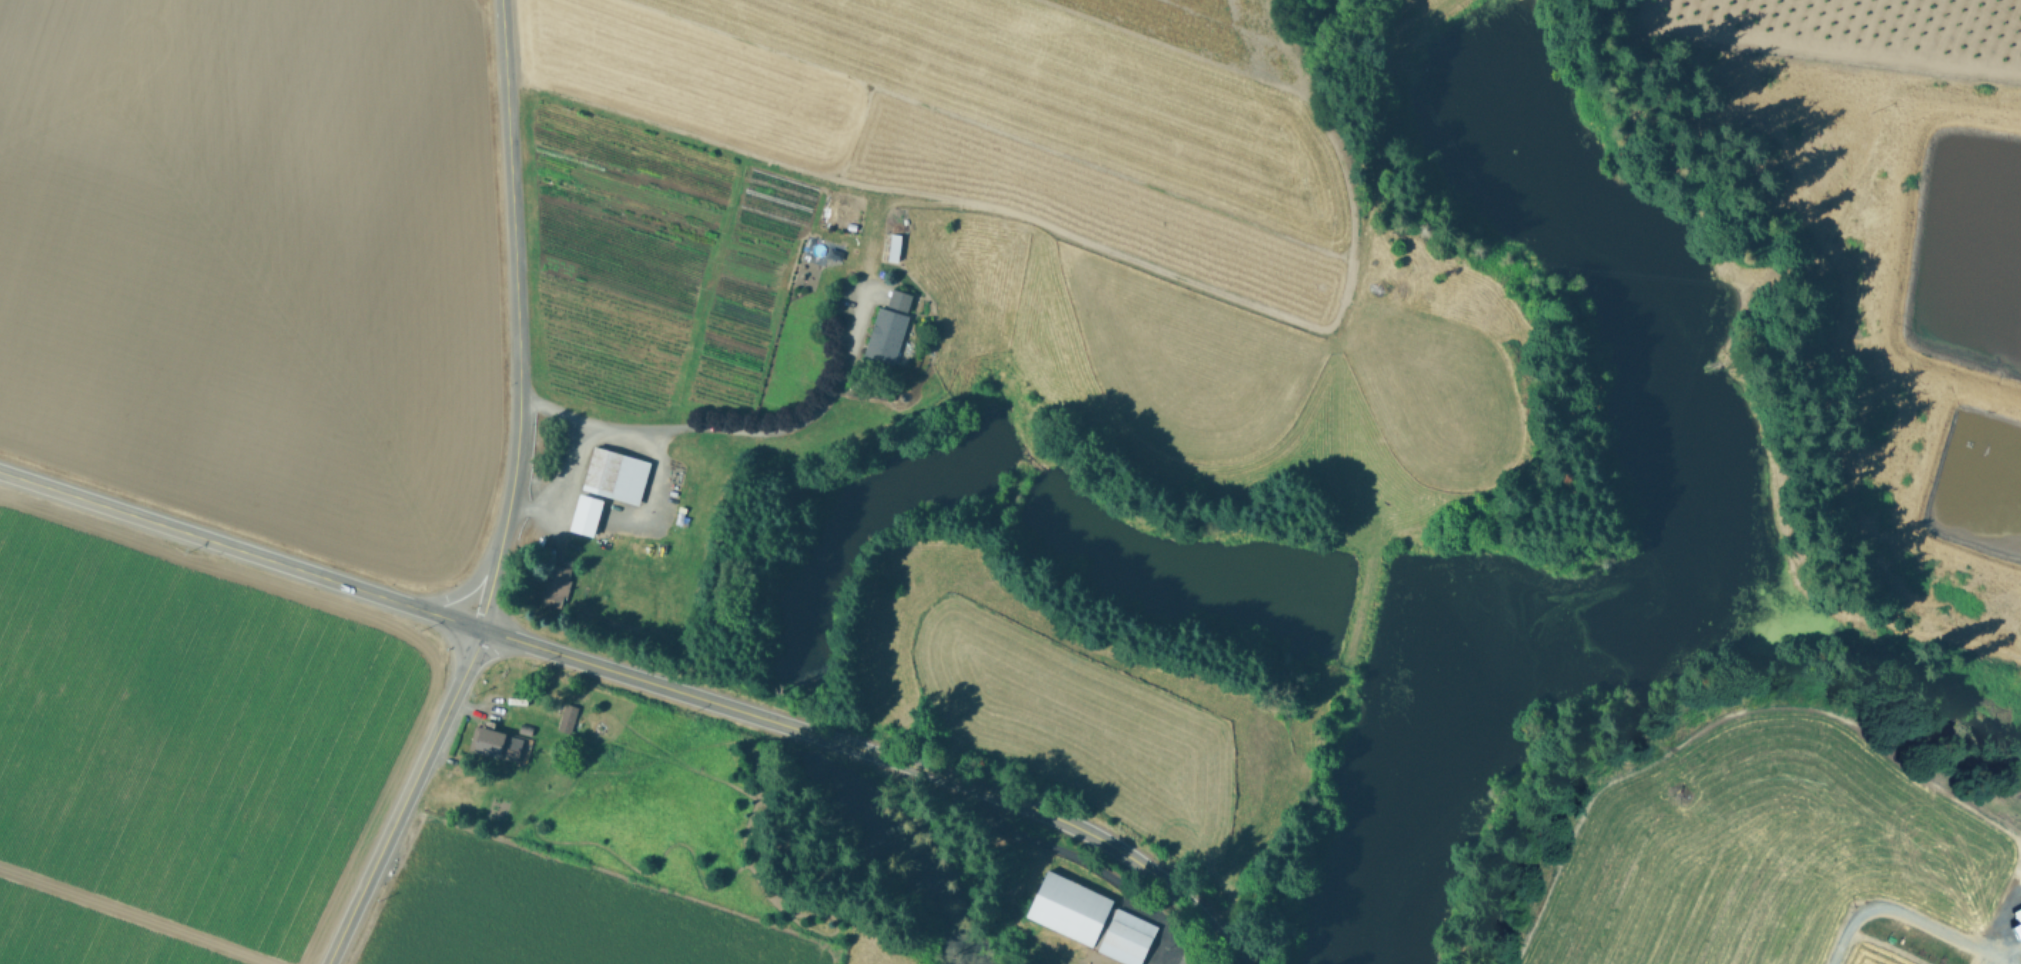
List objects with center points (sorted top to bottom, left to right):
dam: (1417, 27)
crop: (962, 257)
crop: (257, 261)
crop: (1912, 263)
road: (516, 316)
building: (886, 328)
road: (729, 430)
building: (614, 475)
road: (561, 480)
building: (584, 515)
road: (240, 550)
building: (553, 585)
road: (462, 589)
building: (567, 714)
road: (815, 735)
building: (495, 745)
crop: (163, 755)
road: (405, 796)
crop: (589, 843)
crop: (1774, 851)
road: (1089, 859)
road: (1191, 910)
road: (1909, 912)
building: (1088, 919)
building: (2016, 929)

